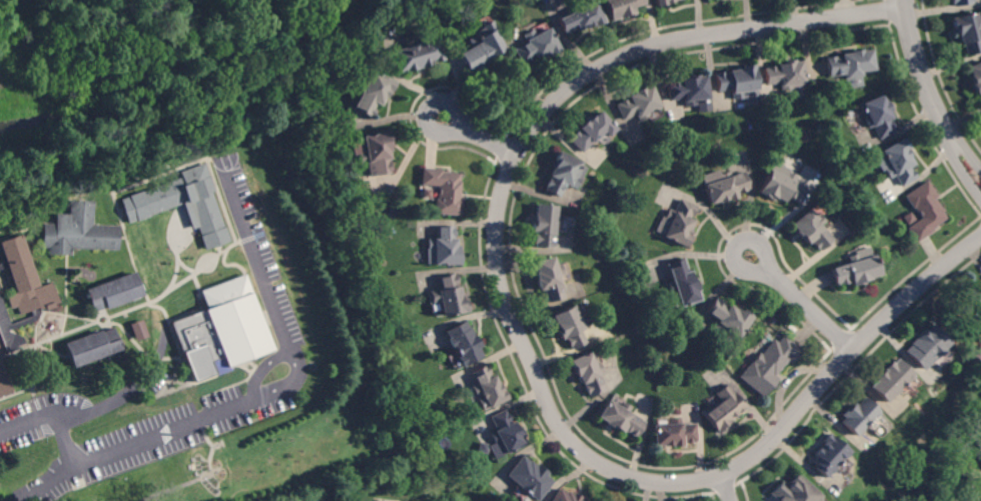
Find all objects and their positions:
building: (662, 2)
building: (961, 2)
building: (620, 7)
building: (580, 18)
building: (969, 32)
building: (535, 46)
building: (480, 48)
building: (417, 55)
building: (850, 64)
building: (784, 74)
building: (976, 76)
building: (739, 84)
building: (690, 92)
building: (372, 93)
road: (931, 94)
building: (638, 103)
building: (878, 116)
building: (592, 131)
road: (480, 136)
building: (377, 154)
building: (895, 162)
building: (564, 174)
building: (723, 185)
building: (781, 185)
building: (149, 187)
building: (444, 190)
building: (427, 193)
building: (119, 199)
building: (923, 210)
building: (907, 219)
building: (676, 224)
building: (545, 225)
building: (811, 229)
building: (80, 231)
building: (443, 247)
building: (855, 268)
building: (548, 278)
building: (682, 283)
building: (21, 292)
building: (115, 292)
building: (449, 295)
building: (974, 300)
road: (803, 301)
building: (728, 318)
building: (570, 325)
building: (140, 330)
building: (221, 330)
road: (522, 338)
building: (463, 343)
building: (924, 346)
building: (92, 347)
building: (768, 365)
building: (588, 373)
building: (889, 380)
building: (4, 383)
building: (487, 388)
road: (244, 401)
road: (107, 402)
building: (724, 408)
building: (857, 416)
building: (621, 418)
building: (505, 433)
building: (674, 433)
building: (483, 448)
building: (825, 455)
building: (529, 478)
road: (726, 487)
building: (793, 491)
building: (565, 496)
building: (980, 500)

